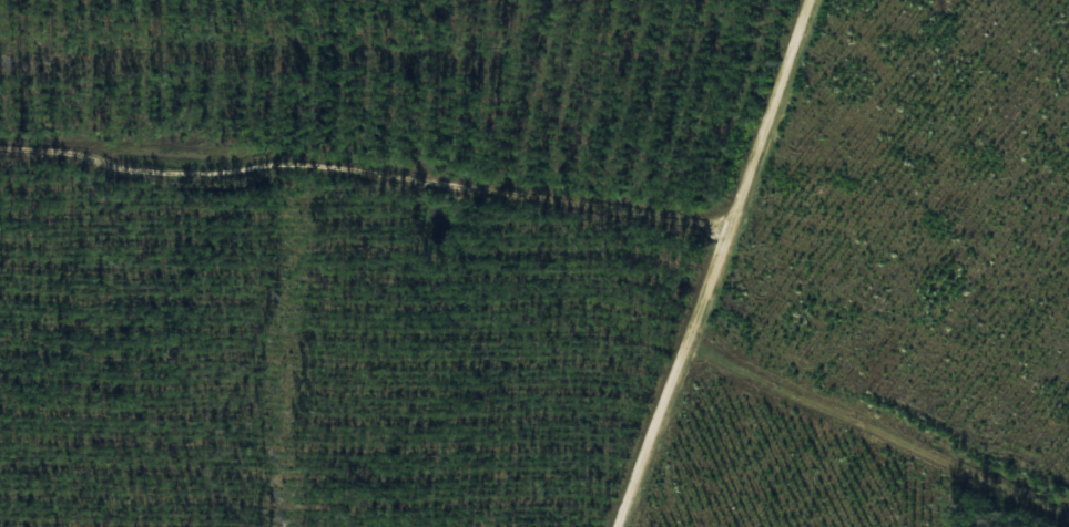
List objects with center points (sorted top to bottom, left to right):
road: (670, 257)

